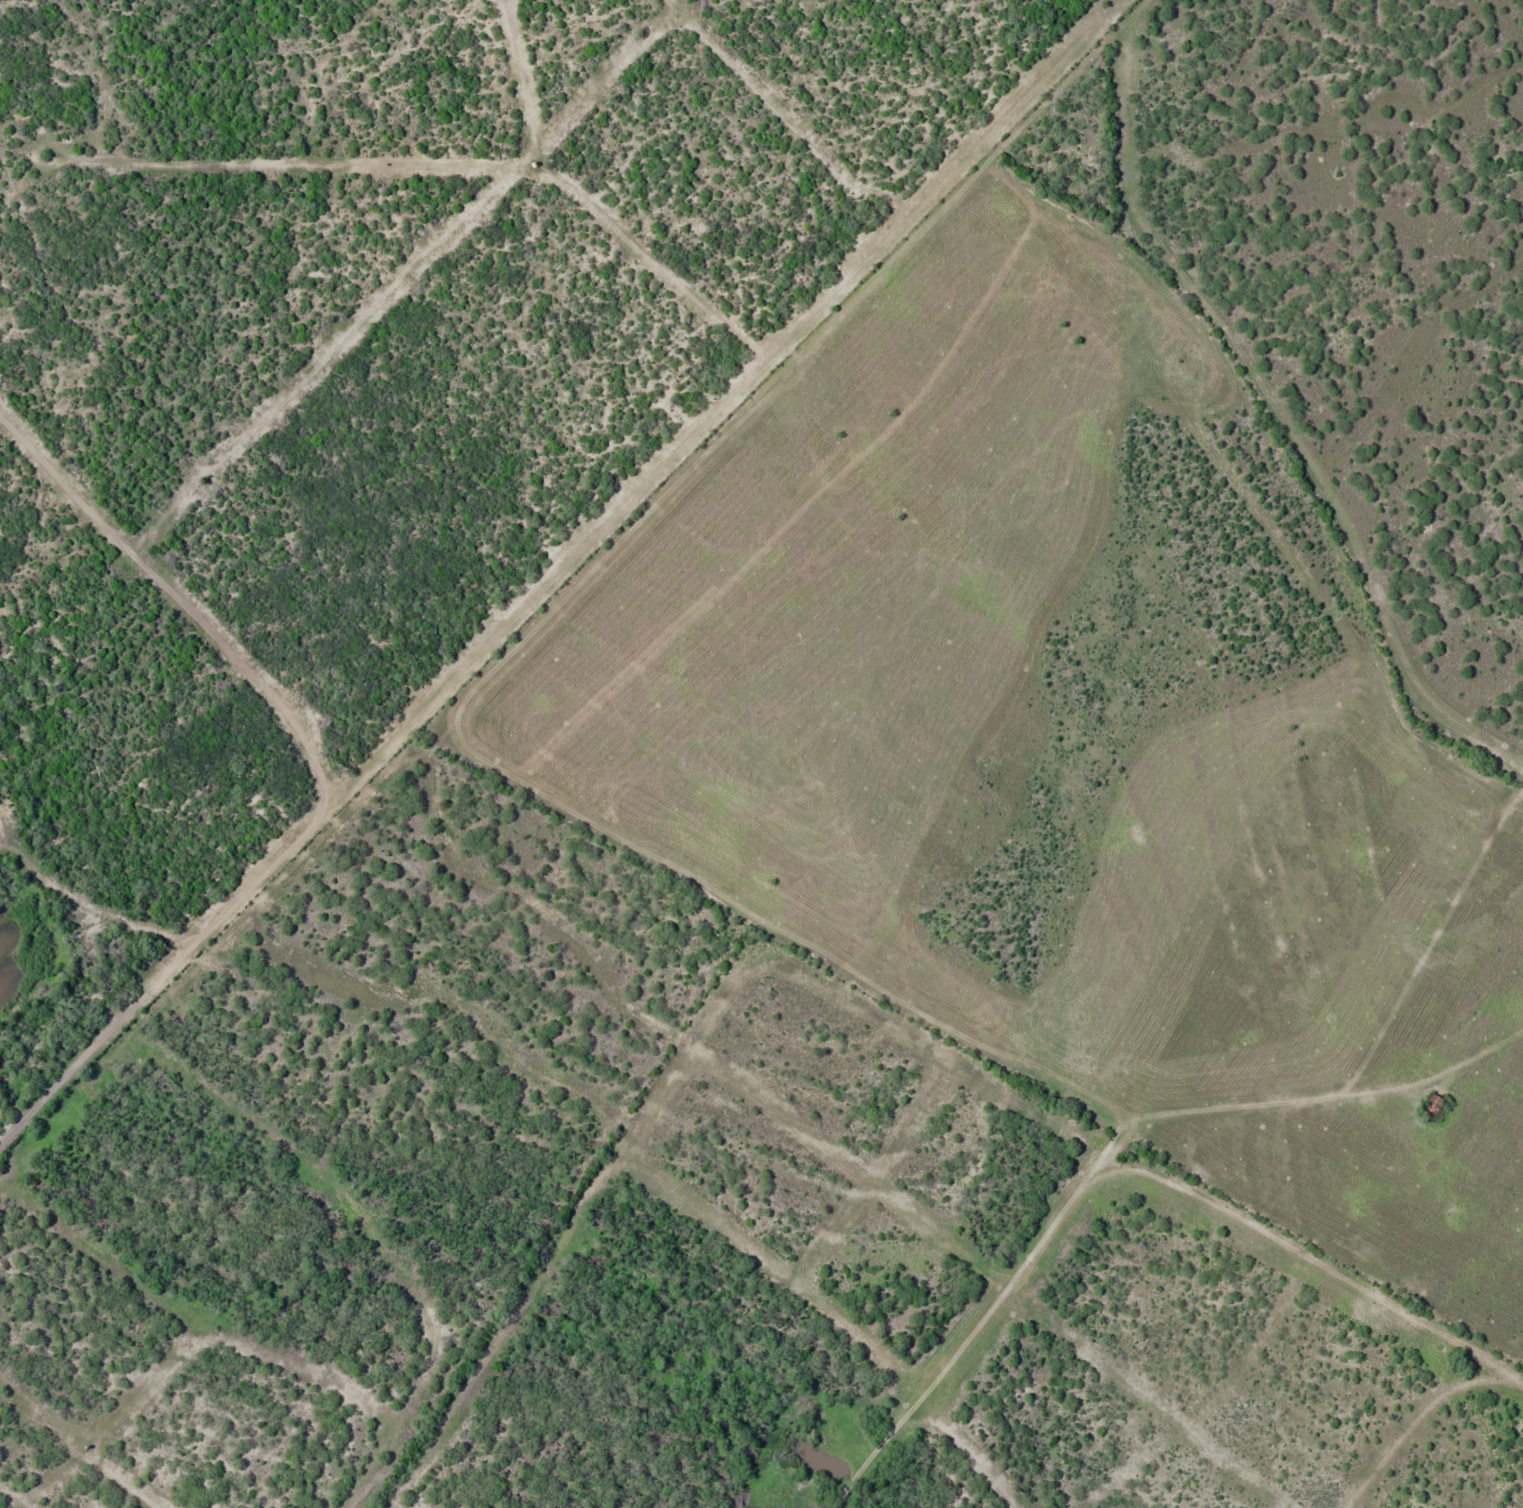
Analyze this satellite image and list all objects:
building: (1432, 1107)

